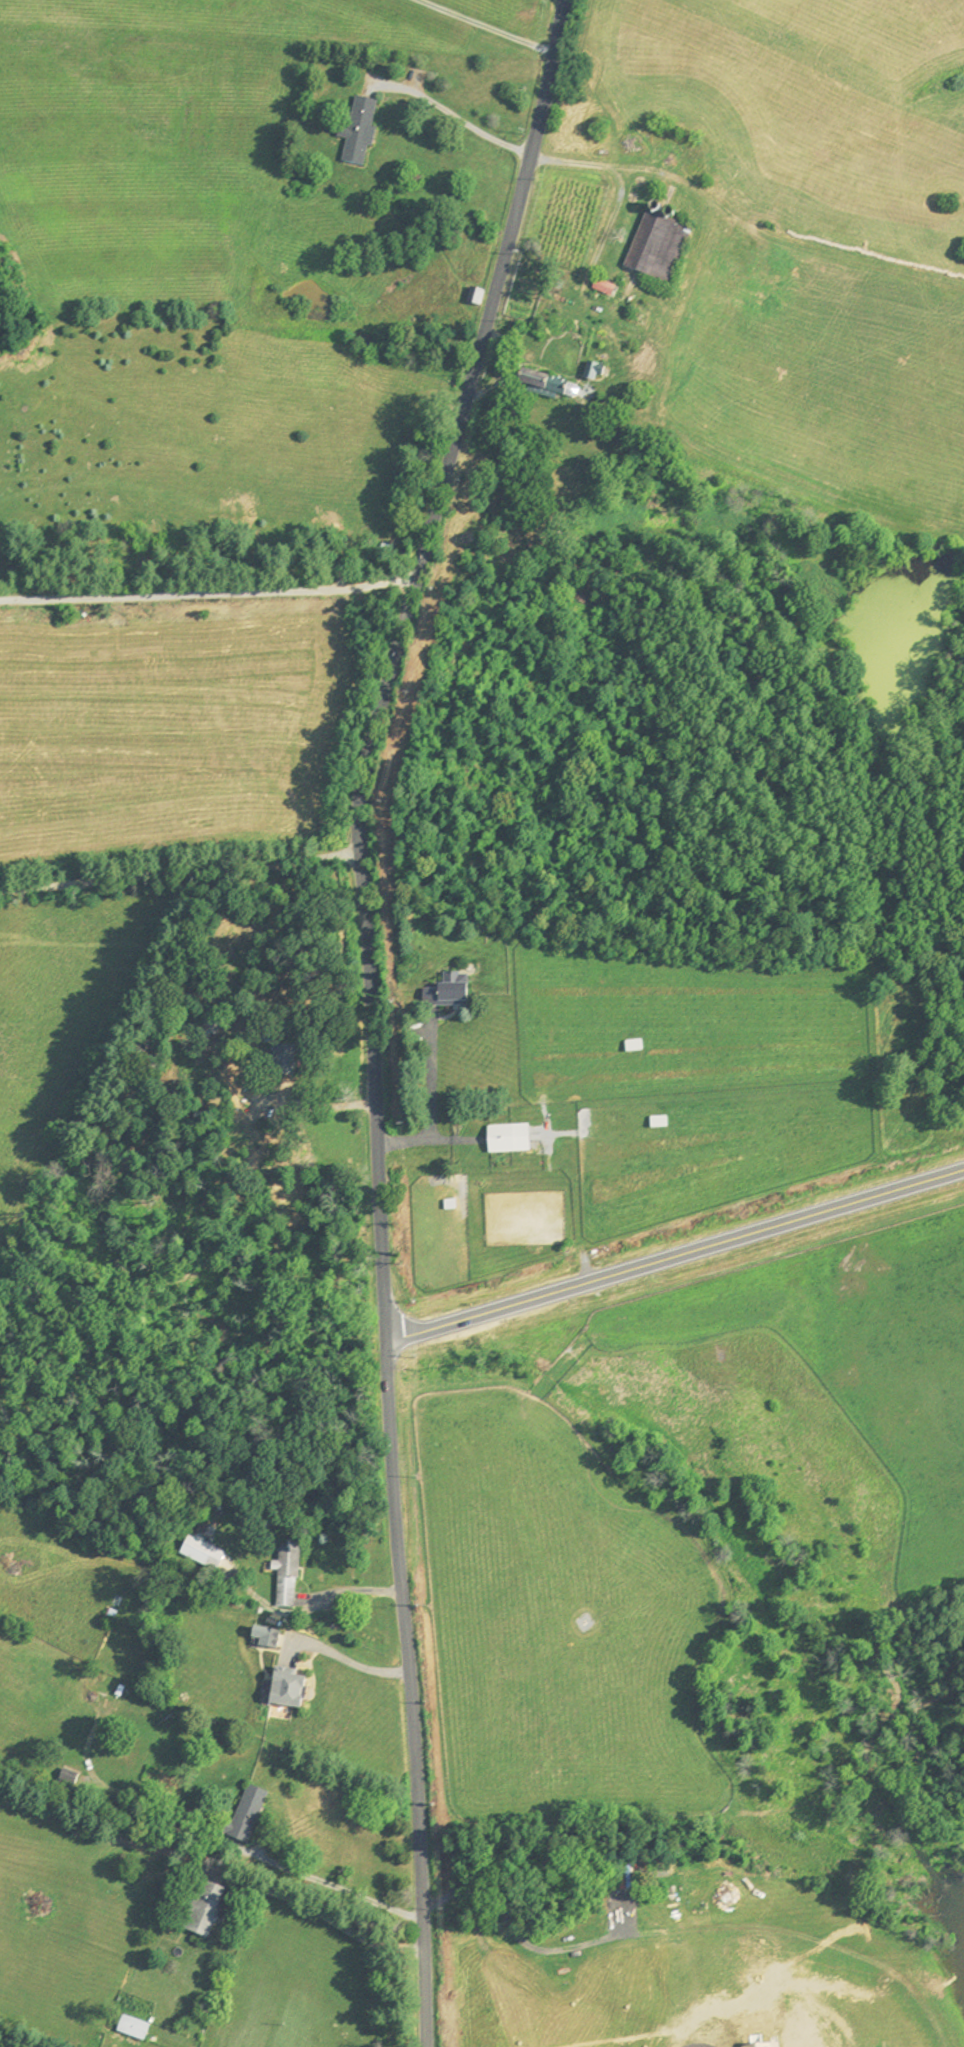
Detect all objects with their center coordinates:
road: (480, 28)
road: (455, 116)
building: (364, 131)
road: (602, 167)
building: (665, 247)
building: (481, 295)
building: (555, 383)
road: (207, 596)
road: (180, 880)
building: (446, 992)
road: (369, 1011)
building: (635, 1047)
building: (287, 1061)
road: (323, 1107)
road: (431, 1108)
building: (661, 1123)
building: (512, 1139)
road: (673, 1250)
building: (207, 1555)
building: (291, 1576)
road: (347, 1662)
building: (295, 1690)
building: (252, 1816)
road: (335, 1888)
building: (209, 1911)
road: (322, 1914)
crop: (703, 1977)
building: (136, 2026)

